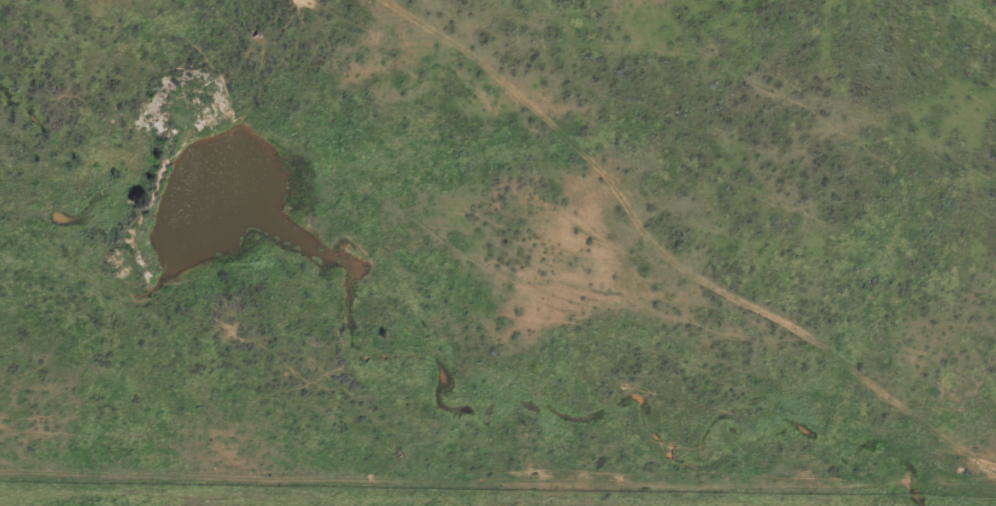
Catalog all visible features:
road: (703, 119)

